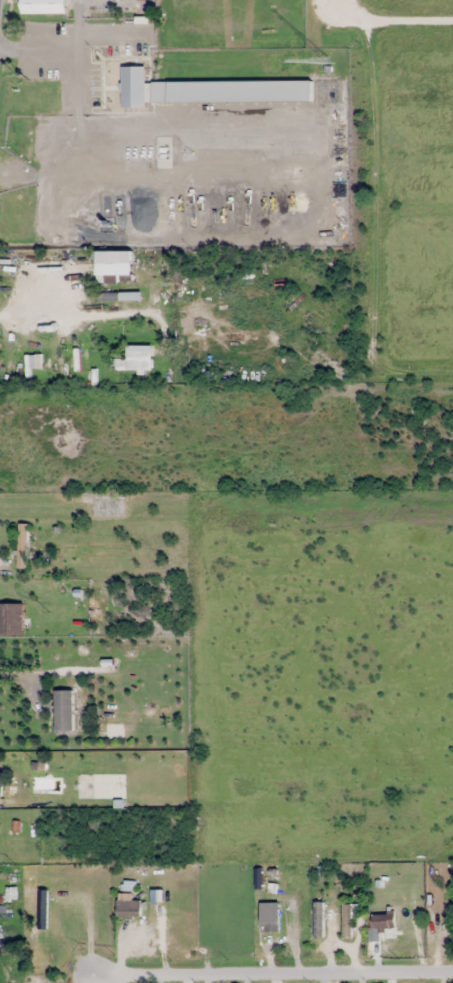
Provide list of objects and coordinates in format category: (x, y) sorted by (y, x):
building: (43, 6)
building: (231, 91)
building: (46, 95)
building: (114, 264)
building: (134, 359)
building: (108, 506)
building: (22, 545)
building: (11, 620)
building: (69, 663)
building: (0, 791)
building: (128, 907)
building: (42, 909)
building: (96, 910)
building: (360, 917)
building: (269, 922)
building: (380, 924)

